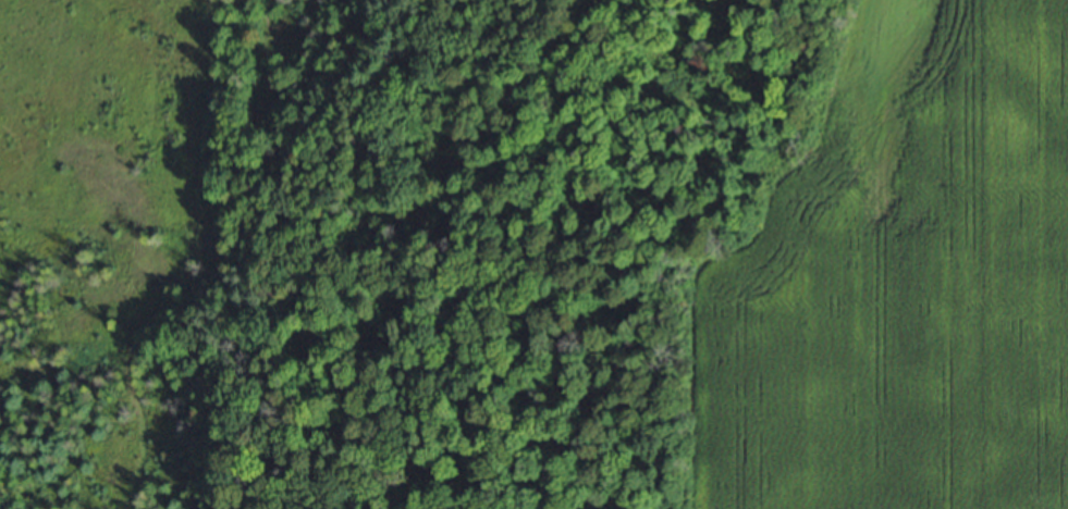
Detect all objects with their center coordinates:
road: (191, 264)

